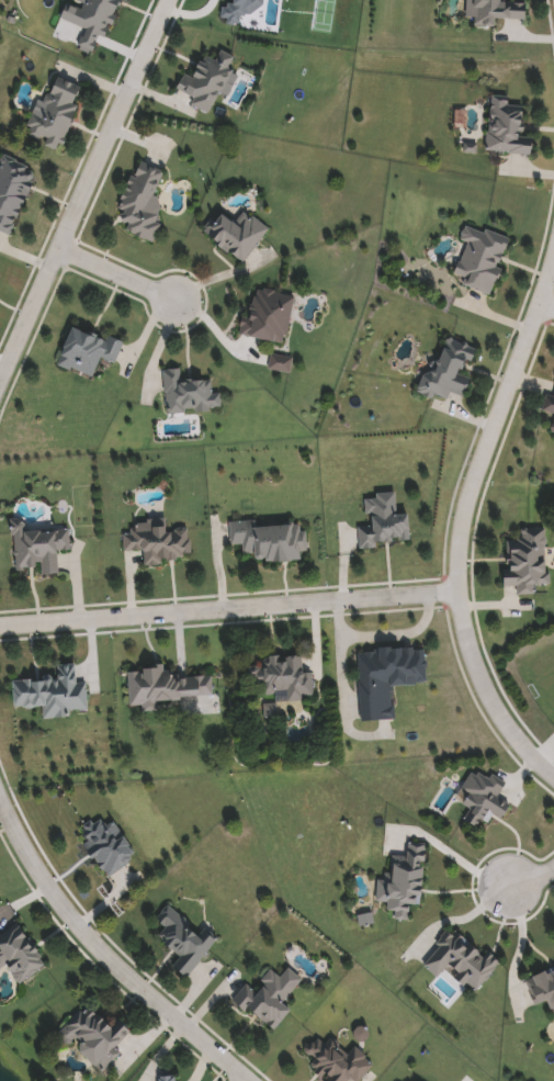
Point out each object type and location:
building: (495, 12)
building: (207, 82)
building: (56, 115)
building: (508, 130)
road: (83, 190)
building: (13, 193)
building: (142, 201)
building: (238, 235)
building: (480, 260)
road: (115, 280)
road: (546, 308)
building: (269, 316)
road: (218, 333)
building: (88, 351)
building: (280, 363)
building: (449, 372)
building: (189, 395)
building: (549, 405)
building: (553, 430)
building: (384, 523)
road: (457, 525)
building: (268, 541)
building: (158, 544)
building: (41, 550)
building: (527, 562)
road: (227, 611)
road: (383, 637)
building: (281, 679)
building: (386, 679)
building: (169, 689)
building: (53, 695)
building: (109, 846)
road: (461, 860)
road: (531, 877)
road: (464, 919)
building: (184, 942)
building: (20, 955)
road: (106, 956)
building: (461, 961)
building: (542, 988)
building: (268, 1001)
building: (94, 1037)
building: (337, 1061)
building: (169, 1078)

